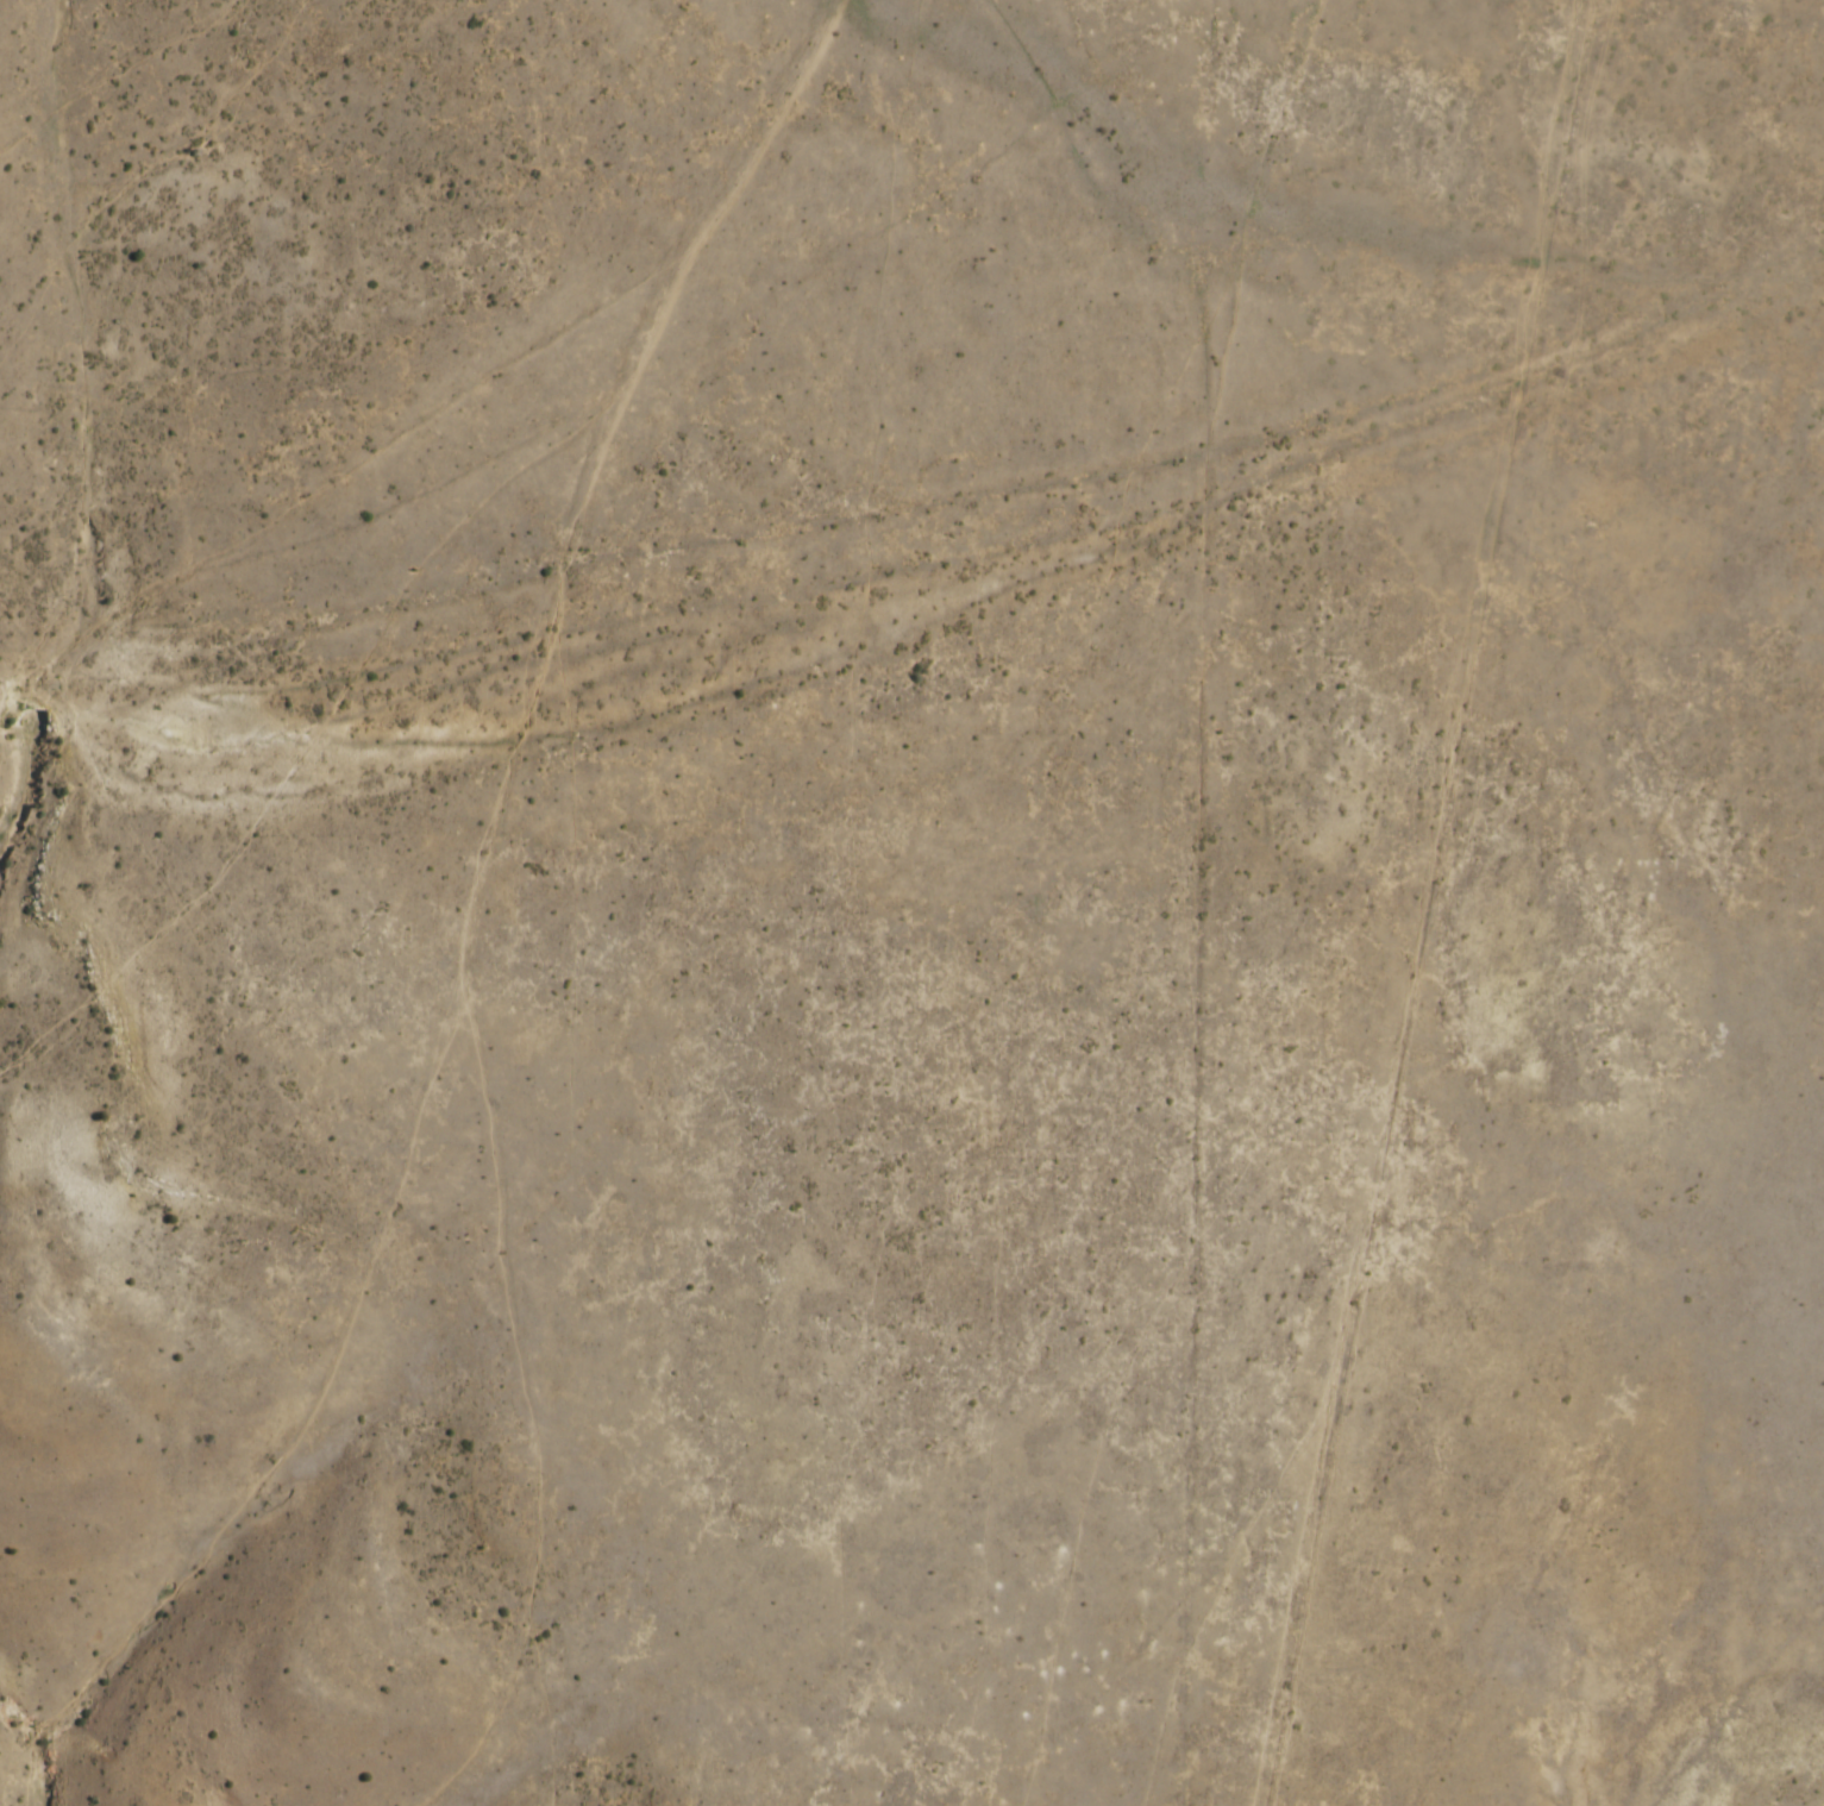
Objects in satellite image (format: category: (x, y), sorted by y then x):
road: (1748, 336)
road: (932, 608)

